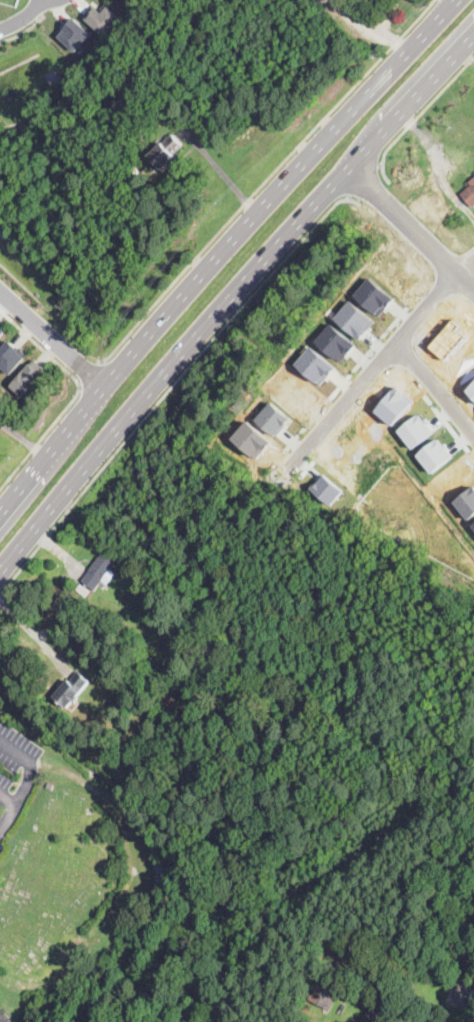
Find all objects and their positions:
building: (375, 0)
road: (22, 17)
building: (101, 17)
road: (368, 24)
road: (23, 30)
building: (75, 33)
road: (465, 57)
road: (423, 107)
building: (165, 152)
road: (434, 155)
road: (220, 169)
building: (133, 171)
road: (363, 178)
road: (264, 179)
building: (469, 193)
road: (411, 228)
road: (220, 249)
road: (465, 265)
road: (230, 296)
building: (374, 296)
building: (354, 319)
building: (1, 330)
road: (52, 336)
building: (335, 342)
building: (9, 356)
road: (89, 372)
building: (27, 376)
road: (368, 377)
road: (168, 388)
road: (435, 389)
road: (75, 393)
building: (273, 418)
building: (416, 431)
road: (21, 439)
building: (327, 489)
building: (467, 502)
building: (473, 524)
building: (100, 571)
building: (83, 590)
road: (32, 632)
building: (104, 636)
building: (72, 689)
road: (29, 764)
parking lot: (15, 767)
building: (49, 787)
road: (12, 807)
building: (337, 960)
building: (322, 996)
building: (471, 998)
building: (379, 1013)
parking lot: (4, 1016)

